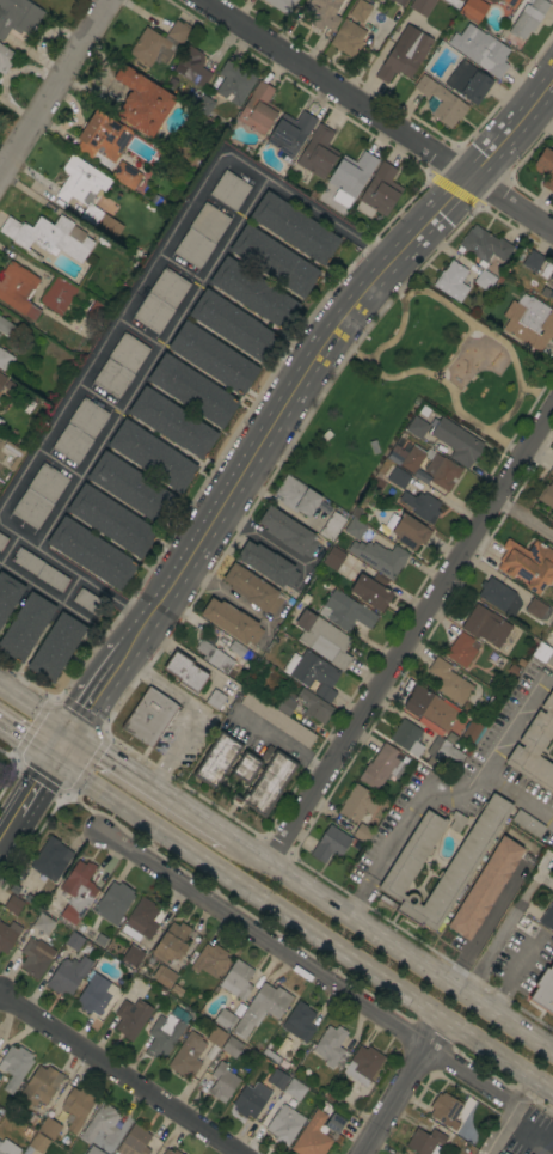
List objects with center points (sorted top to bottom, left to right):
building: (552, 1)
building: (400, 2)
building: (455, 2)
building: (511, 2)
building: (283, 5)
building: (422, 6)
building: (539, 6)
building: (360, 10)
building: (473, 10)
building: (324, 12)
building: (18, 17)
building: (522, 25)
building: (348, 38)
building: (159, 43)
building: (480, 49)
building: (404, 56)
building: (5, 57)
building: (192, 67)
building: (468, 81)
building: (234, 84)
road: (55, 87)
building: (142, 102)
building: (441, 102)
building: (204, 105)
building: (258, 109)
road: (379, 115)
building: (290, 132)
building: (103, 136)
building: (318, 152)
building: (188, 157)
building: (545, 169)
building: (125, 175)
building: (350, 176)
building: (229, 190)
building: (84, 191)
building: (379, 191)
building: (294, 227)
building: (48, 237)
building: (201, 237)
building: (484, 245)
building: (274, 260)
building: (533, 261)
building: (551, 275)
building: (484, 280)
building: (451, 281)
building: (18, 289)
building: (253, 293)
building: (551, 293)
building: (57, 294)
building: (160, 300)
building: (98, 313)
building: (529, 322)
building: (233, 325)
road: (113, 326)
building: (6, 328)
road: (398, 330)
road: (455, 352)
road: (315, 354)
building: (214, 359)
building: (5, 360)
road: (149, 361)
building: (121, 366)
building: (2, 379)
building: (191, 390)
park: (411, 390)
road: (509, 411)
building: (172, 422)
building: (417, 427)
building: (79, 431)
building: (324, 435)
building: (456, 441)
building: (373, 446)
building: (152, 456)
building: (395, 456)
building: (431, 466)
building: (551, 470)
building: (420, 476)
building: (398, 477)
building: (131, 488)
building: (39, 495)
building: (547, 495)
building: (297, 496)
building: (422, 506)
building: (111, 520)
road: (524, 520)
building: (332, 526)
building: (355, 529)
building: (288, 531)
building: (408, 532)
building: (2, 541)
building: (92, 554)
building: (379, 557)
building: (333, 558)
building: (528, 563)
building: (268, 564)
building: (39, 569)
building: (252, 588)
building: (371, 591)
building: (8, 594)
building: (499, 597)
building: (88, 602)
building: (537, 610)
building: (345, 611)
building: (232, 622)
building: (486, 625)
building: (25, 627)
road: (411, 635)
building: (322, 639)
building: (56, 647)
building: (543, 648)
building: (461, 649)
building: (240, 652)
building: (214, 657)
building: (185, 671)
building: (312, 673)
building: (449, 682)
road: (92, 698)
building: (215, 700)
building: (285, 702)
building: (314, 706)
building: (429, 707)
road: (33, 709)
building: (149, 716)
road: (512, 718)
building: (277, 719)
building: (472, 731)
building: (405, 735)
road: (25, 743)
road: (282, 744)
road: (59, 746)
building: (535, 746)
building: (444, 752)
building: (216, 761)
building: (382, 767)
building: (262, 780)
road: (33, 787)
road: (155, 790)
road: (516, 792)
building: (357, 804)
road: (405, 822)
building: (456, 822)
building: (528, 823)
road: (8, 828)
building: (364, 831)
building: (330, 844)
building: (50, 859)
building: (400, 872)
road: (546, 877)
building: (484, 887)
building: (76, 892)
building: (113, 903)
building: (13, 905)
building: (547, 916)
building: (142, 920)
building: (42, 923)
road: (505, 924)
road: (301, 927)
building: (8, 935)
building: (73, 940)
building: (100, 941)
building: (171, 944)
road: (399, 950)
building: (131, 955)
building: (35, 957)
building: (209, 959)
road: (307, 965)
building: (68, 975)
road: (510, 975)
building: (162, 976)
building: (236, 979)
building: (543, 990)
building: (93, 995)
building: (260, 1008)
building: (131, 1018)
building: (225, 1019)
building: (299, 1021)
building: (162, 1034)
building: (216, 1037)
building: (231, 1046)
building: (331, 1046)
building: (186, 1056)
building: (363, 1064)
building: (14, 1066)
road: (119, 1074)
building: (277, 1079)
building: (222, 1081)
building: (38, 1086)
road: (404, 1087)
building: (294, 1088)
building: (250, 1100)
building: (76, 1107)
building: (446, 1110)
road: (509, 1116)
building: (334, 1123)
building: (102, 1124)
building: (284, 1124)
building: (48, 1128)
road: (529, 1131)
building: (312, 1136)
building: (134, 1141)
building: (424, 1141)
building: (38, 1142)
building: (7, 1148)
building: (93, 1150)
building: (170, 1152)
building: (499, 1153)
building: (504, 1153)

